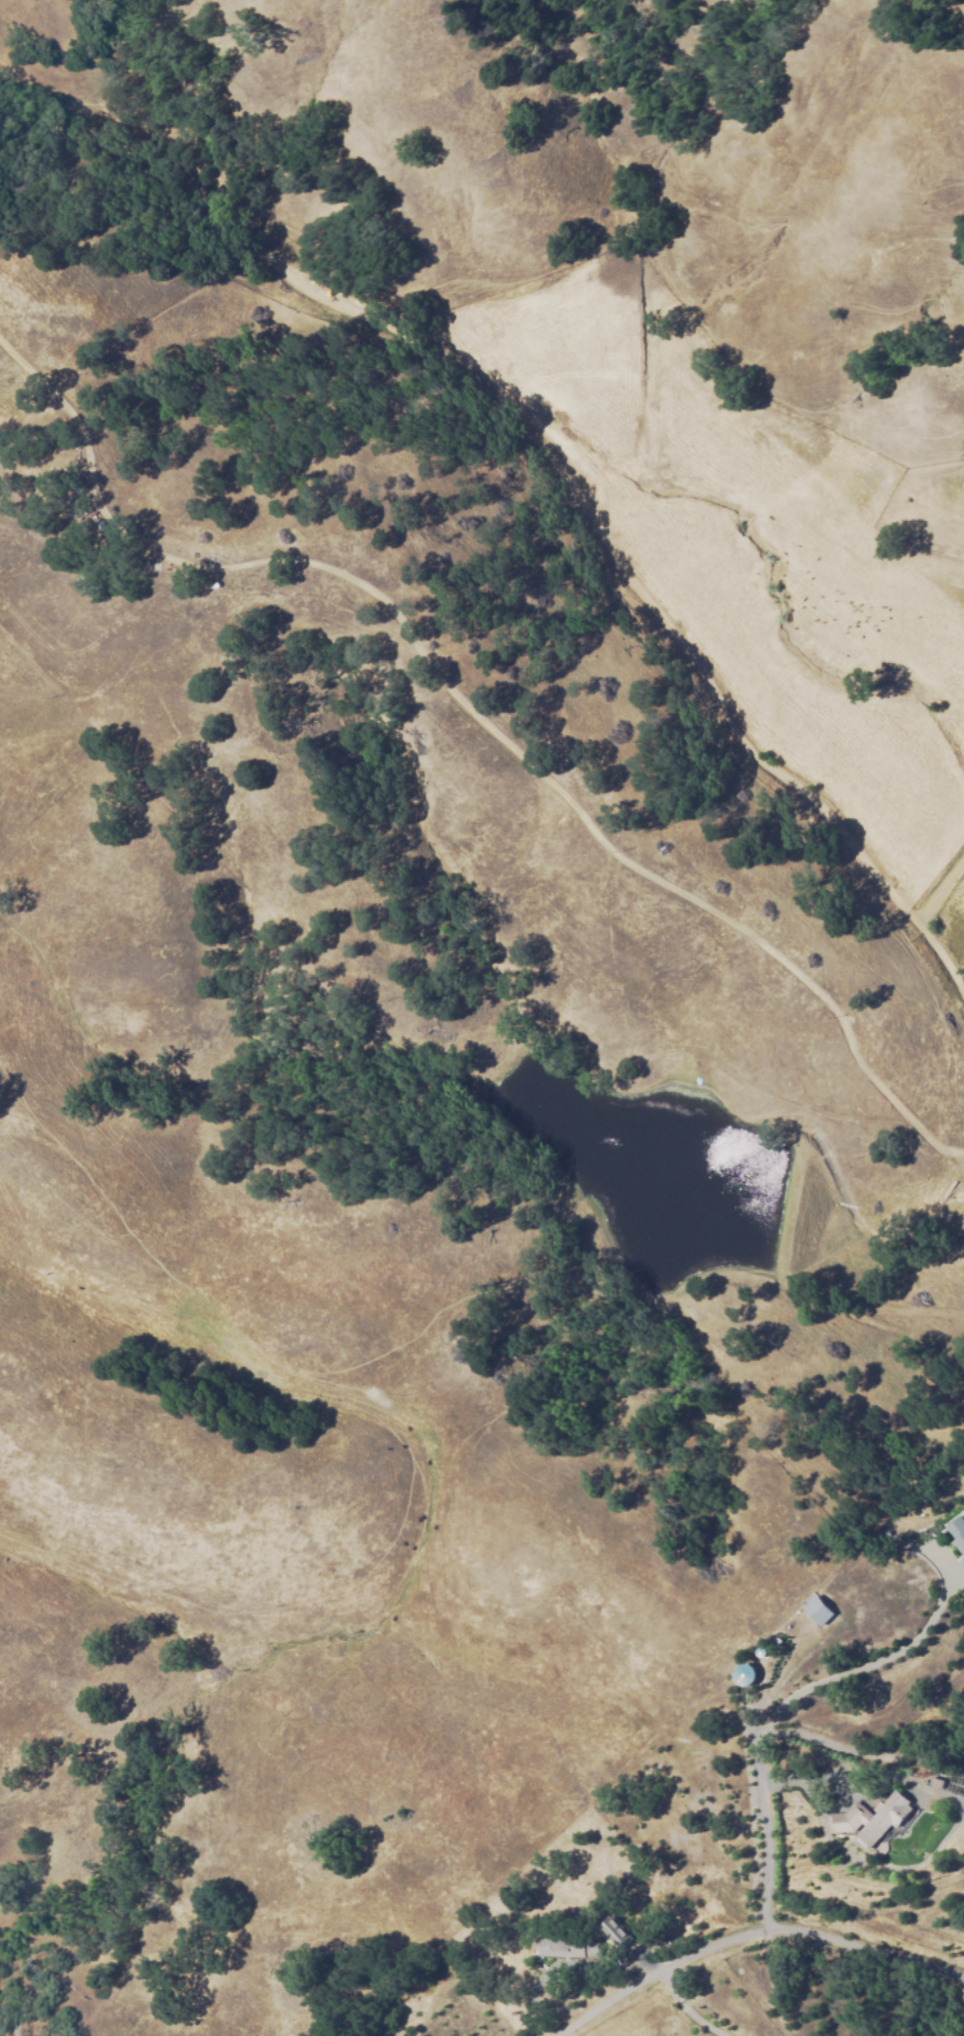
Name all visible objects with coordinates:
road: (569, 429)
road: (586, 780)
road: (946, 882)
road: (869, 986)
building: (958, 1534)
building: (963, 1562)
building: (820, 1611)
building: (744, 1673)
building: (938, 1783)
building: (872, 1820)
building: (620, 1931)
road: (749, 1936)
building: (570, 1943)

